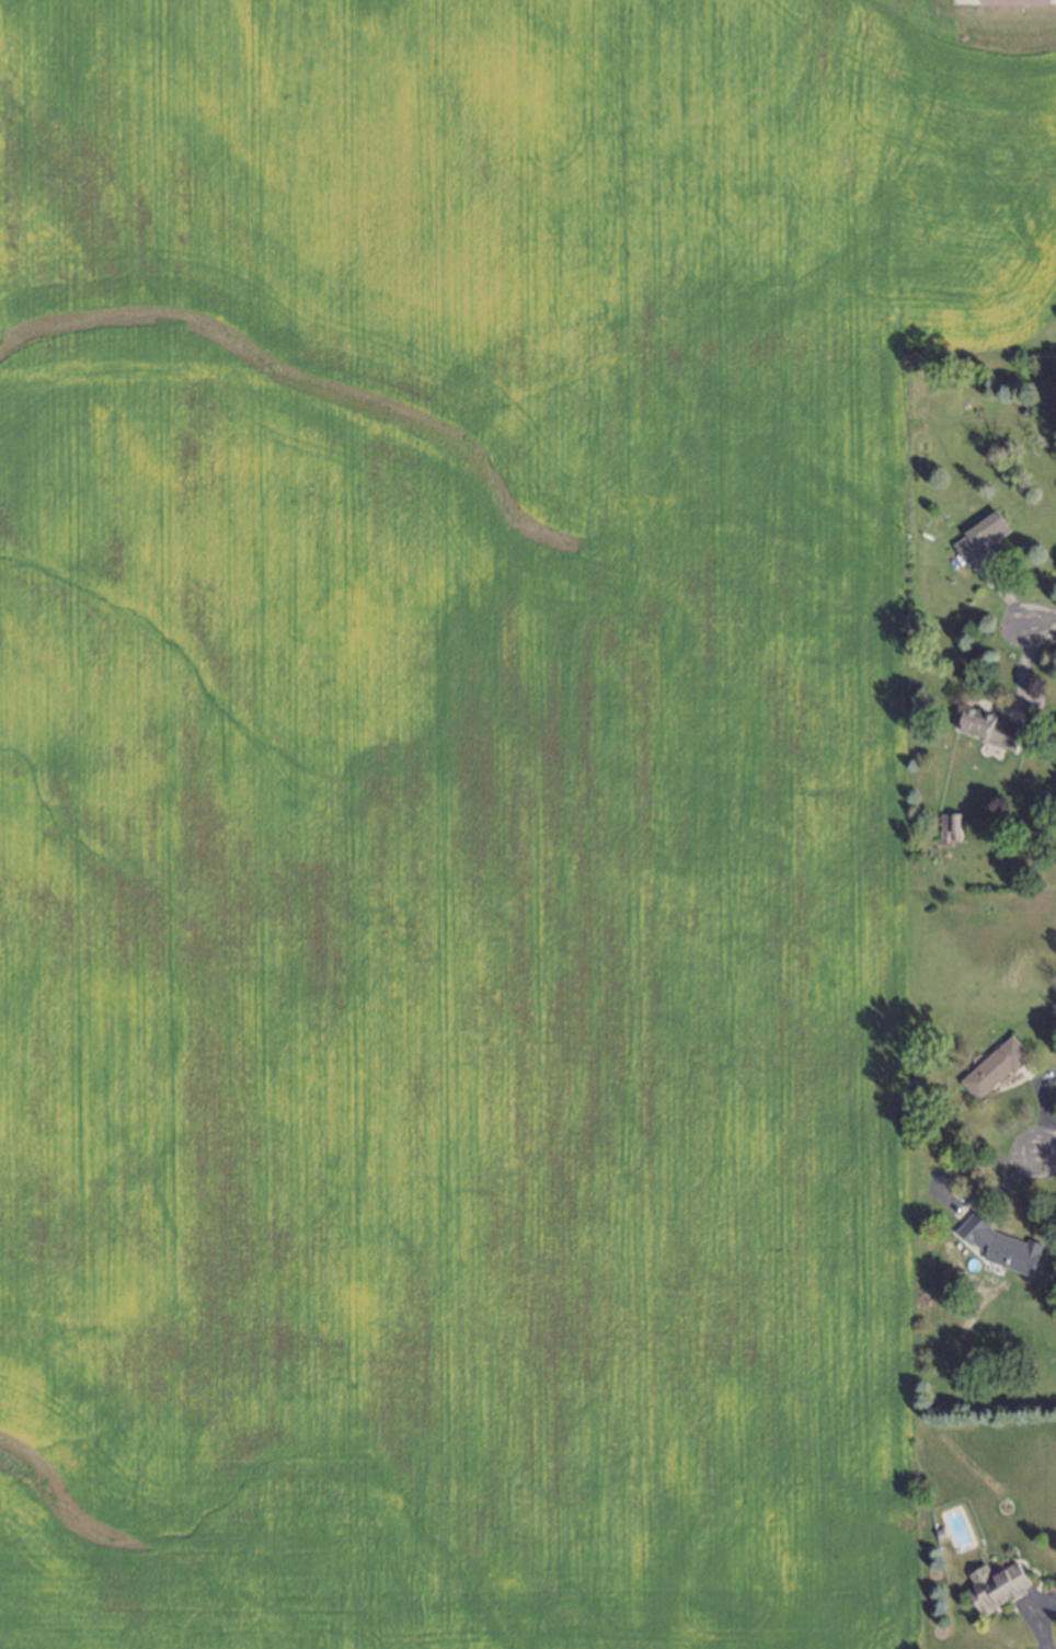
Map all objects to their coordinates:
building: (1015, 1)
building: (978, 539)
road: (1037, 622)
building: (987, 731)
building: (952, 826)
building: (994, 1069)
road: (1044, 1153)
building: (998, 1249)
building: (937, 1532)
building: (994, 1584)

